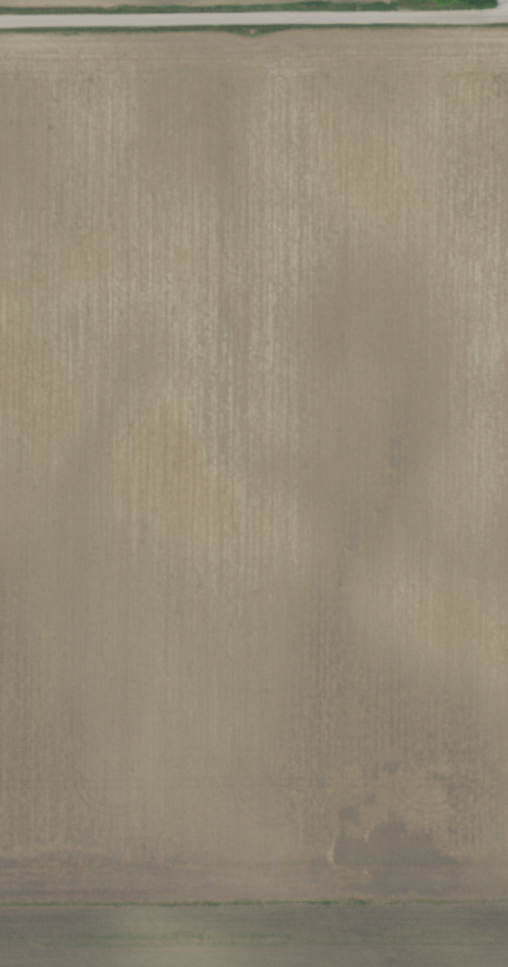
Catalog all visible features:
road: (254, 17)

